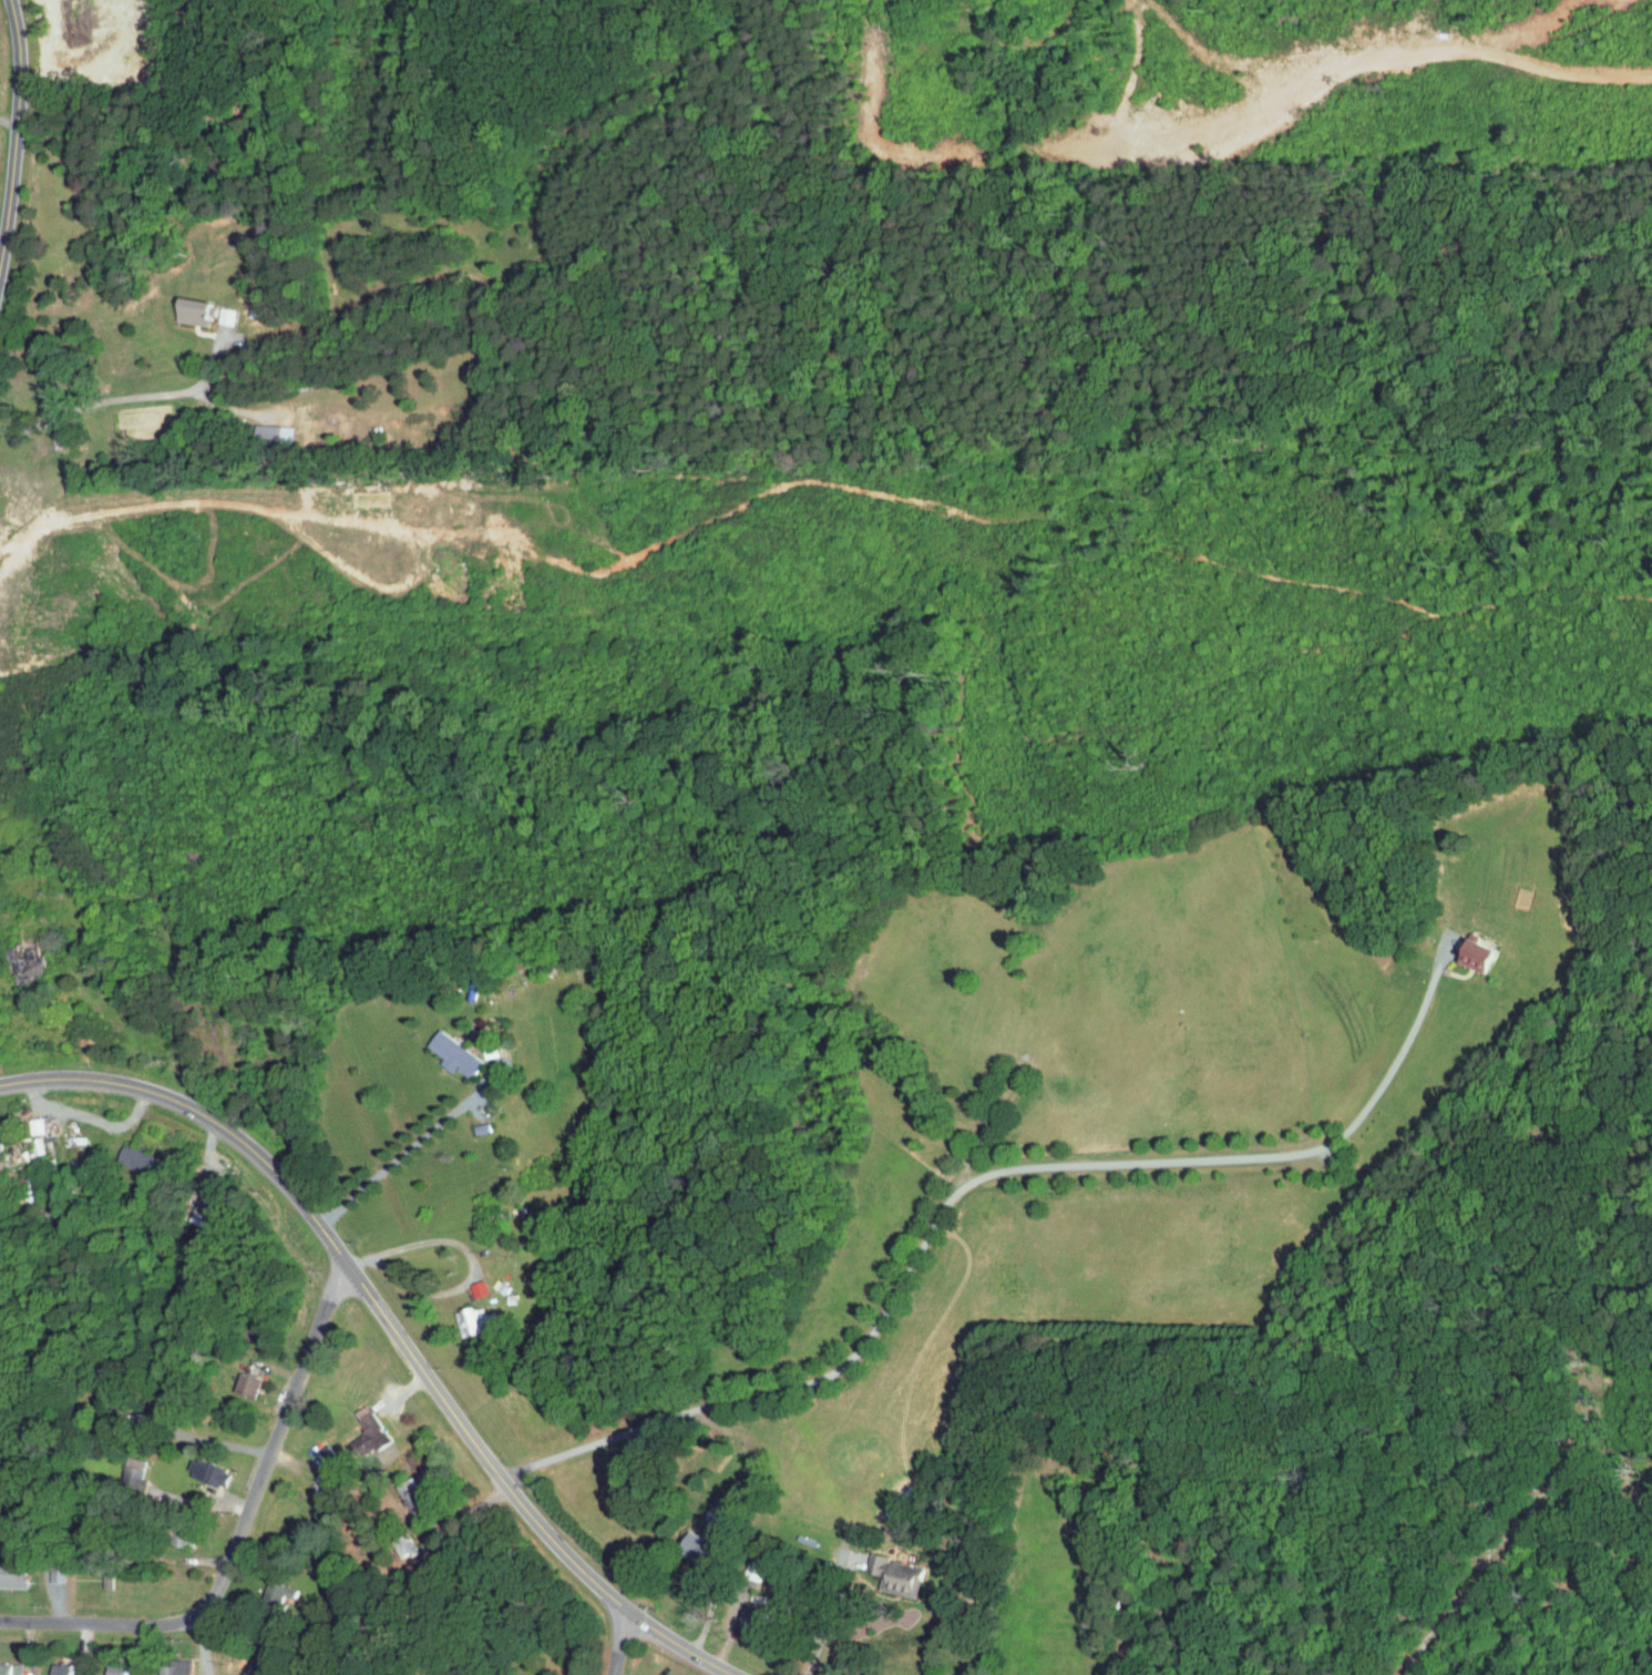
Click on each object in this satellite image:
road: (14, 126)
building: (189, 305)
building: (218, 309)
road: (120, 399)
building: (270, 428)
building: (52, 431)
building: (1470, 949)
building: (447, 1049)
building: (25, 1120)
road: (403, 1154)
building: (129, 1155)
road: (955, 1188)
road: (456, 1252)
building: (466, 1315)
road: (386, 1332)
building: (238, 1379)
building: (360, 1416)
road: (217, 1443)
building: (124, 1463)
building: (198, 1467)
building: (410, 1494)
road: (238, 1540)
building: (691, 1540)
building: (889, 1569)
building: (8, 1570)
building: (47, 1570)
road: (1487, 1577)
building: (268, 1586)
road: (717, 1591)
road: (828, 1607)
road: (619, 1645)
road: (203, 1646)
building: (166, 1665)
building: (4, 1666)
building: (52, 1666)
building: (106, 1666)
building: (246, 1666)

